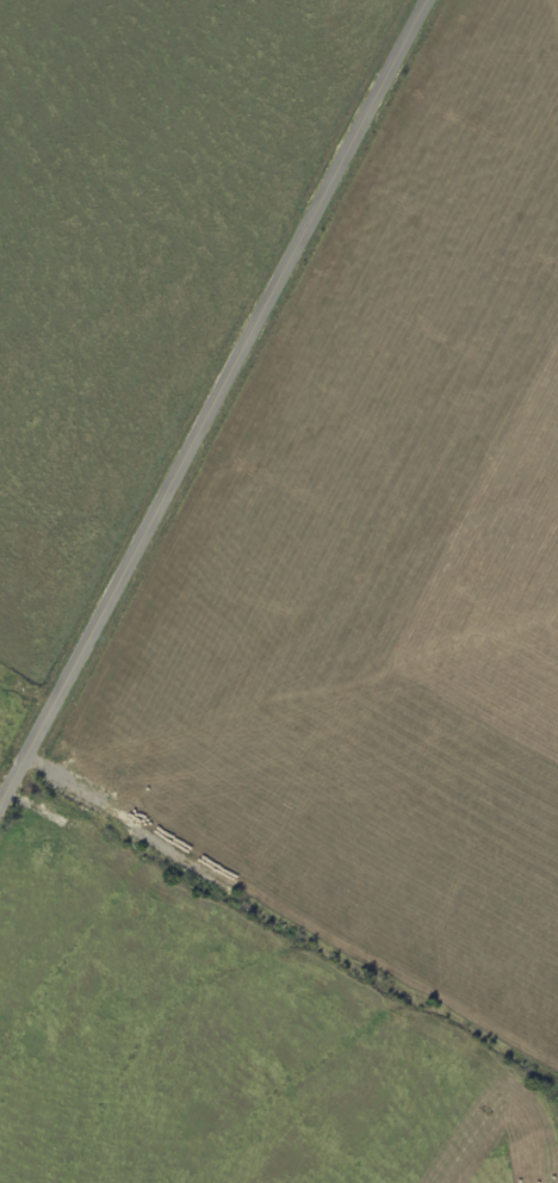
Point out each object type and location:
road: (211, 395)

